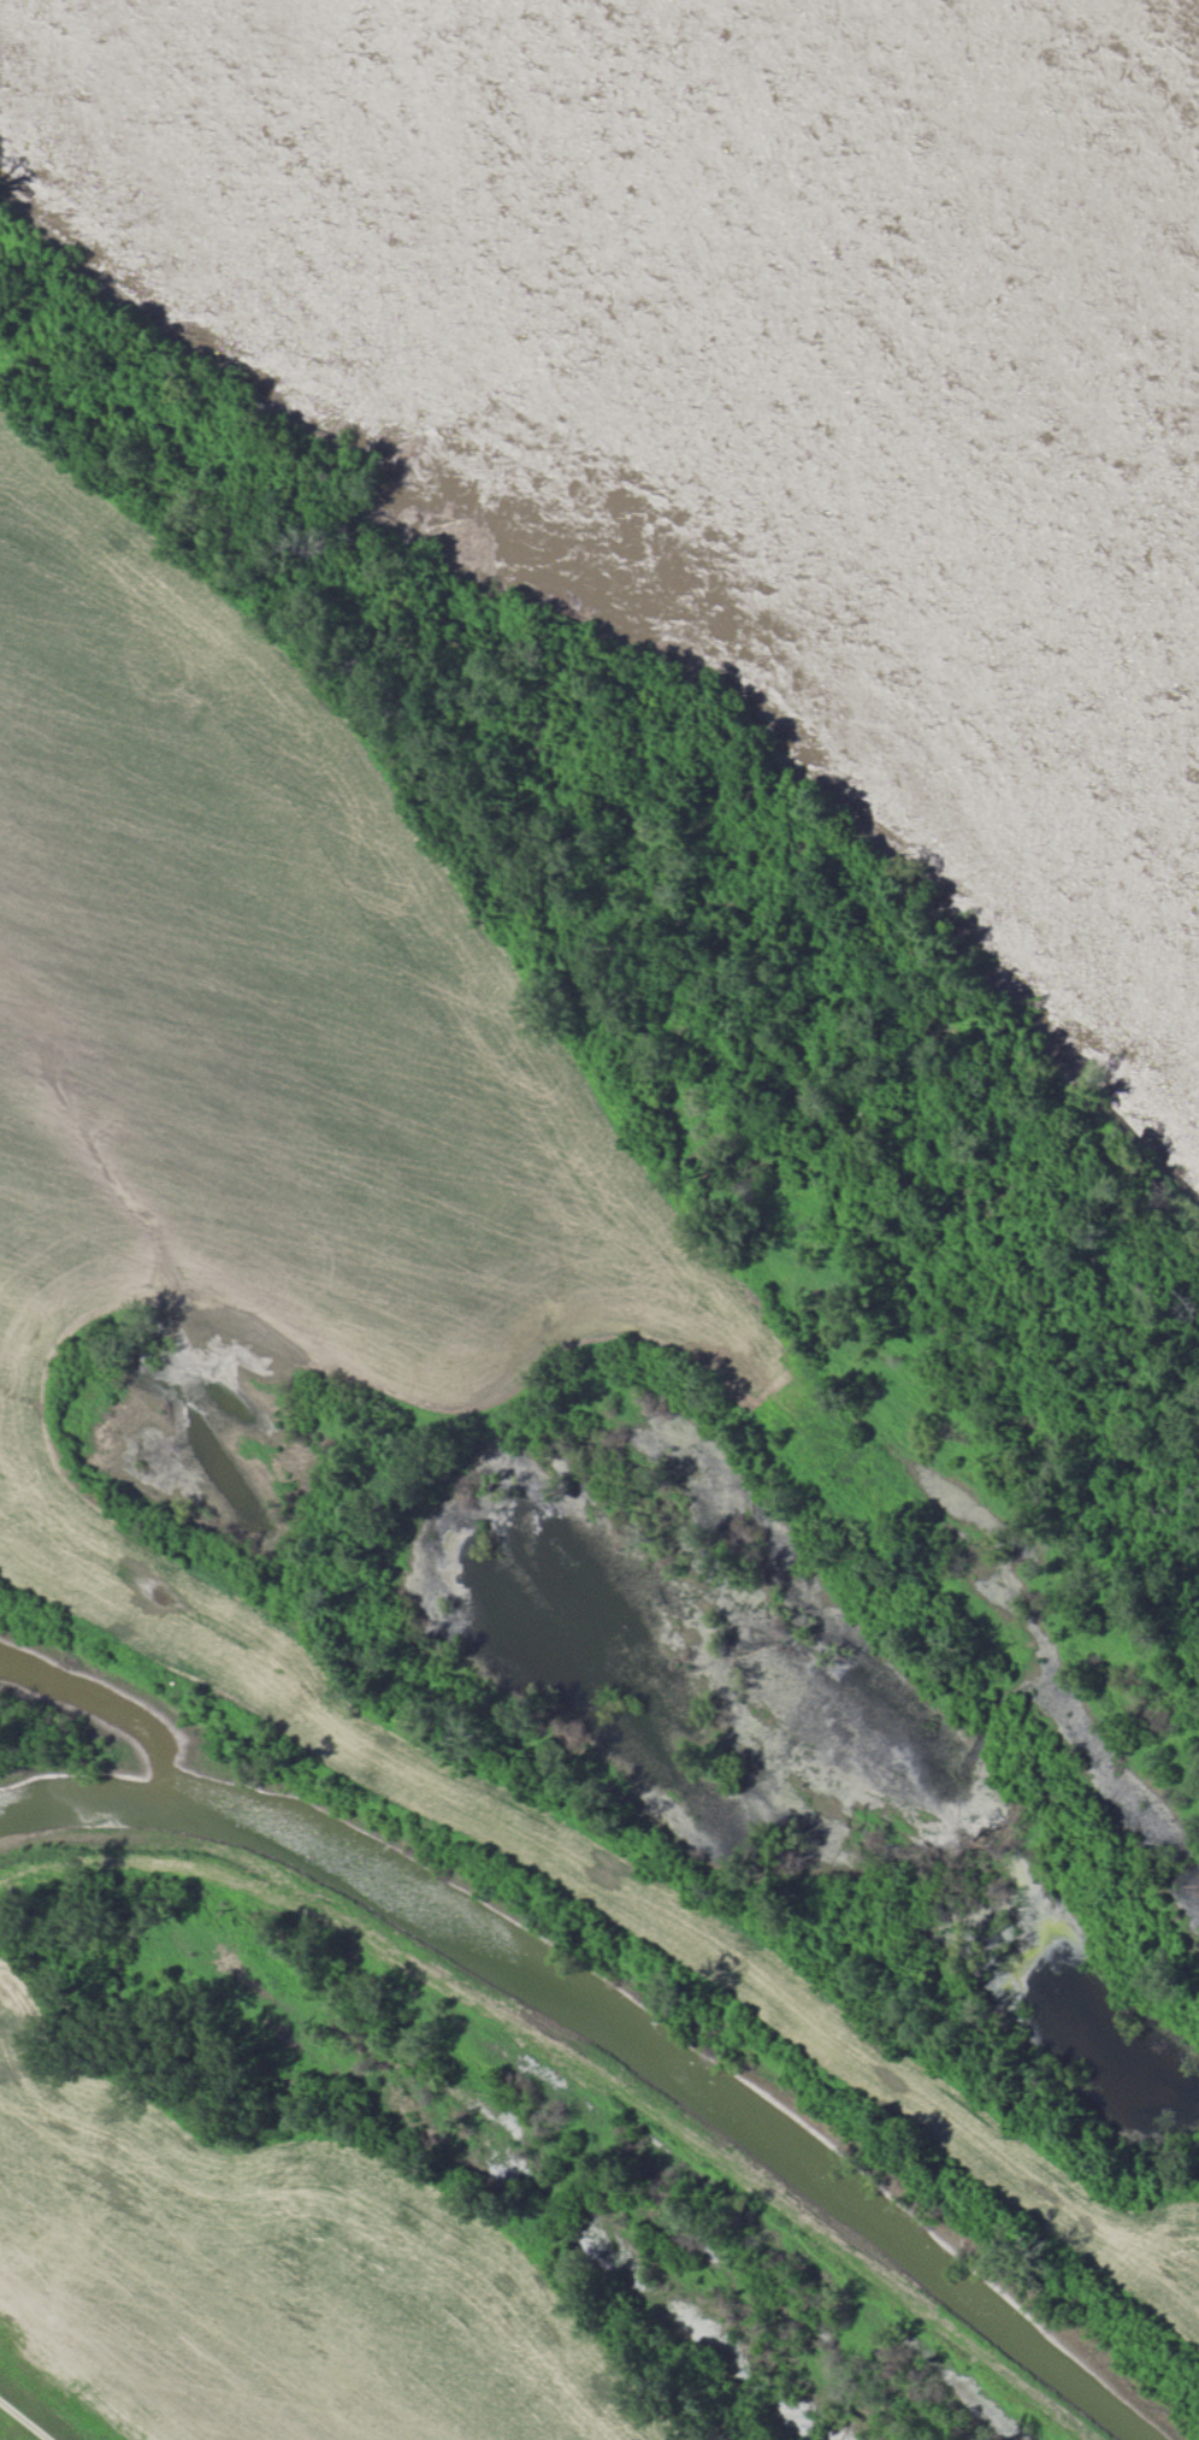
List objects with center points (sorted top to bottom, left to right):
river: (835, 269)
crop: (362, 1207)
crop: (271, 2279)
road: (26, 2418)

